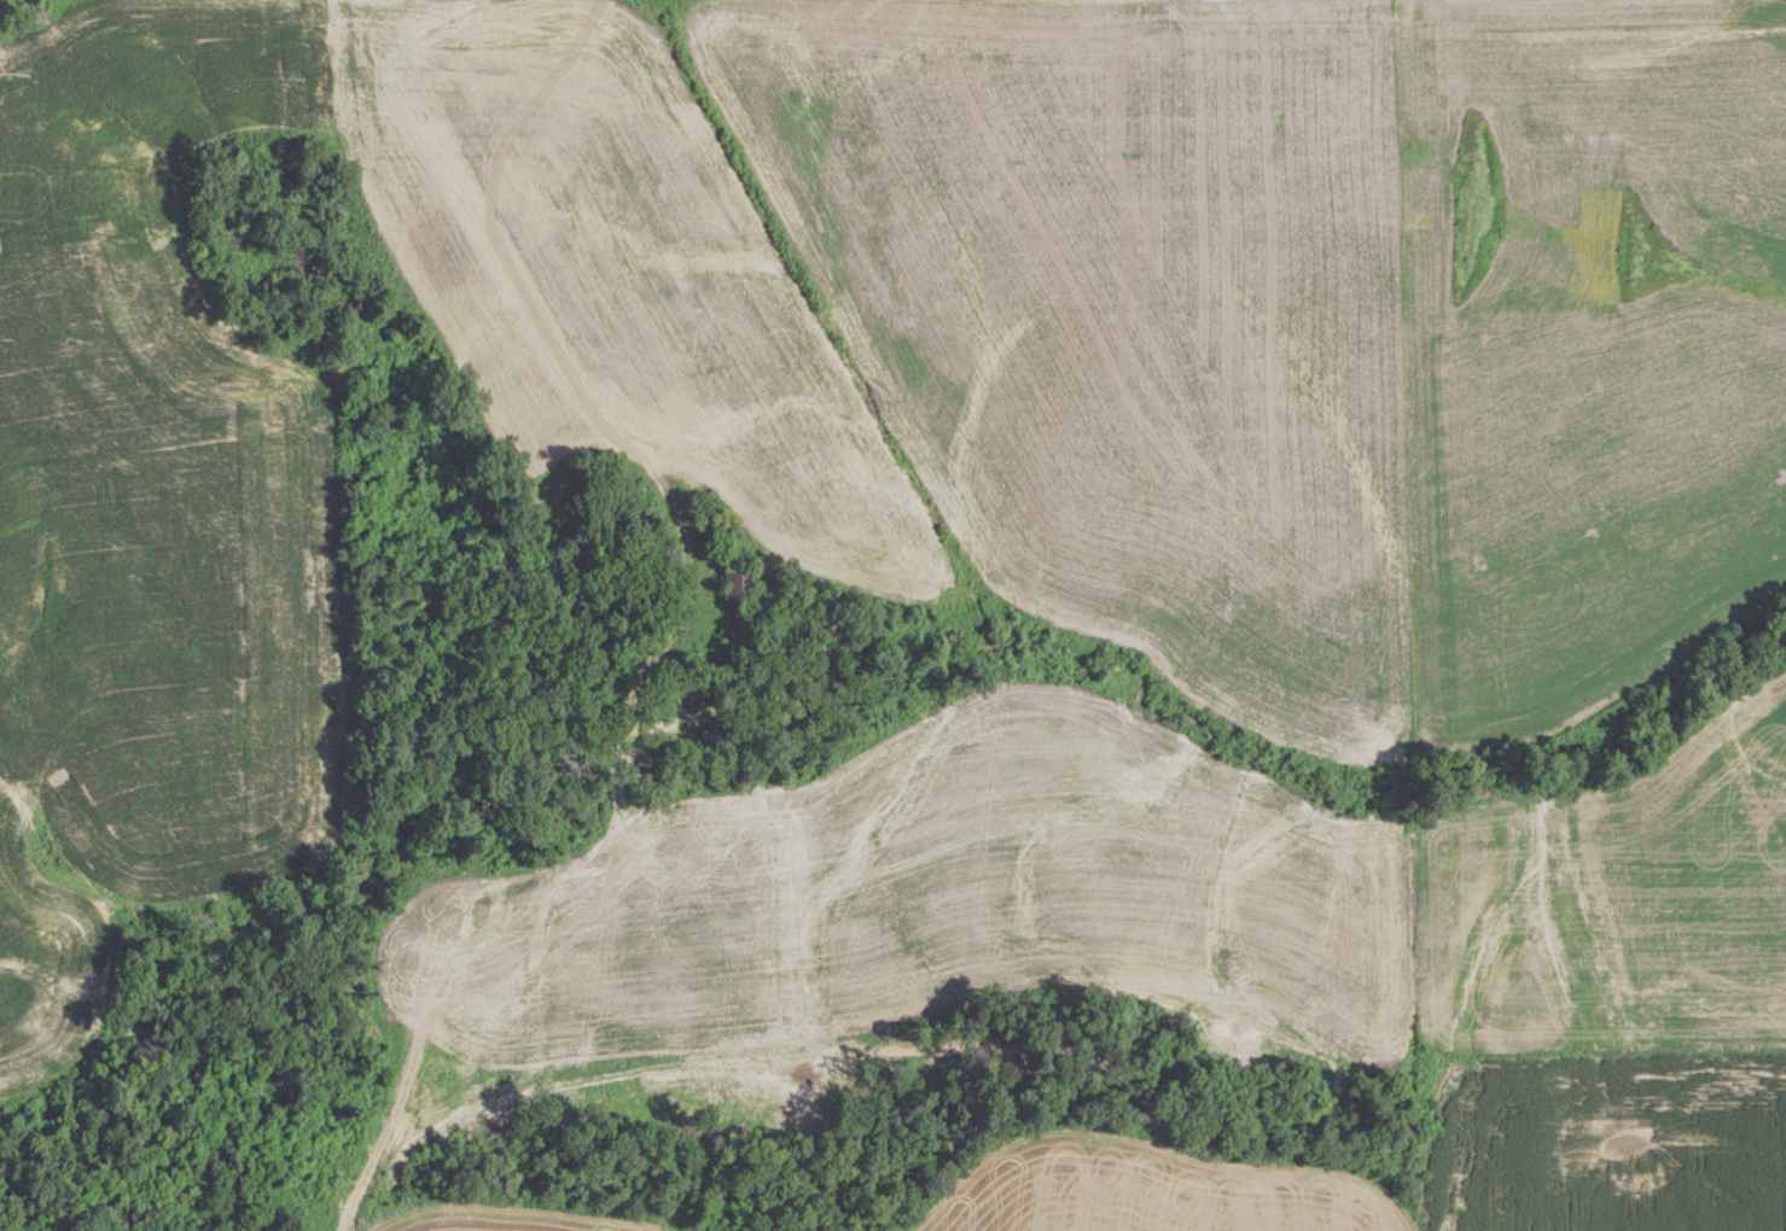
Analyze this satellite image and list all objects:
building: (30, 13)
crop: (1160, 314)
crop: (1592, 350)
crop: (327, 425)
building: (733, 582)
road: (664, 603)
crop: (1602, 1145)

